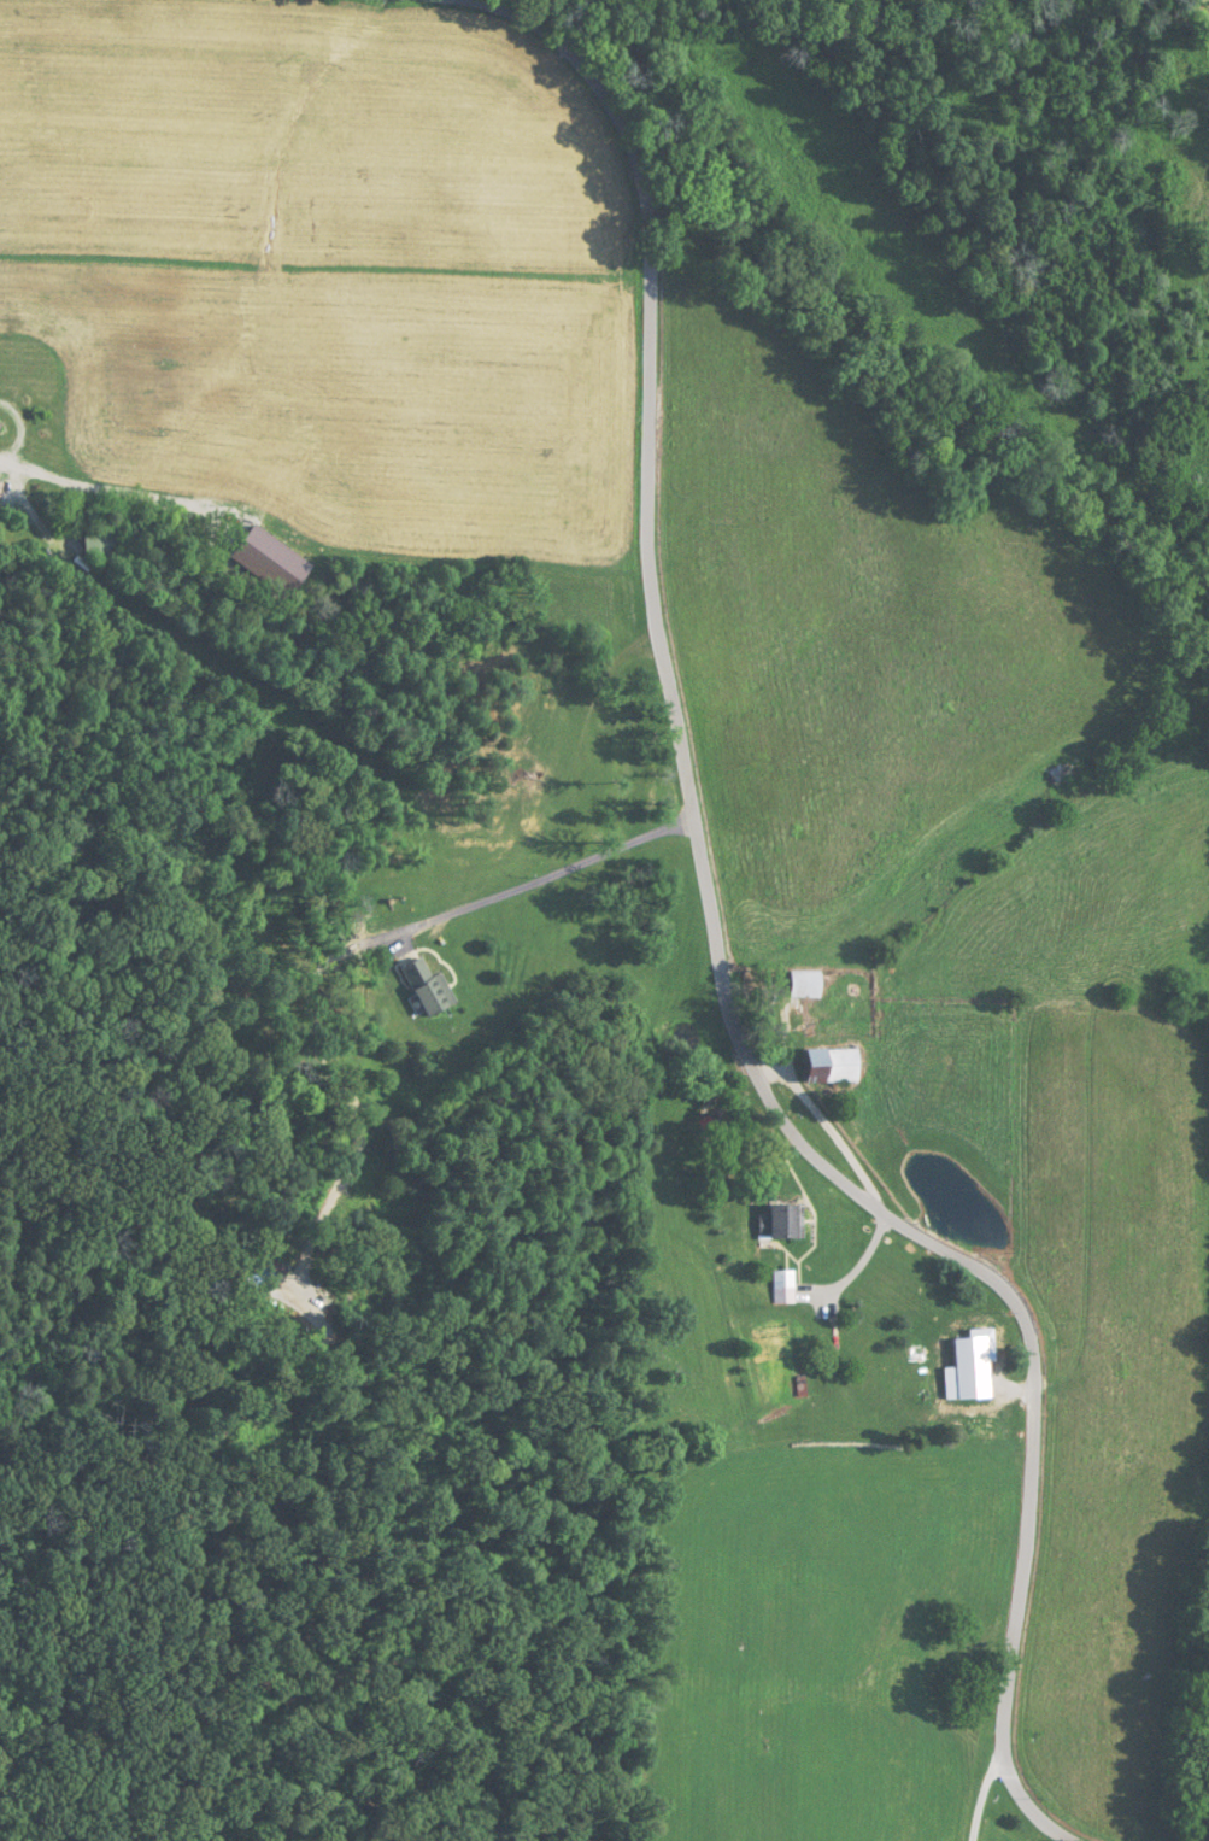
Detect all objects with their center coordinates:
road: (544, 878)
road: (710, 957)
building: (793, 983)
building: (816, 1063)
building: (773, 1221)
building: (776, 1285)
building: (961, 1367)

